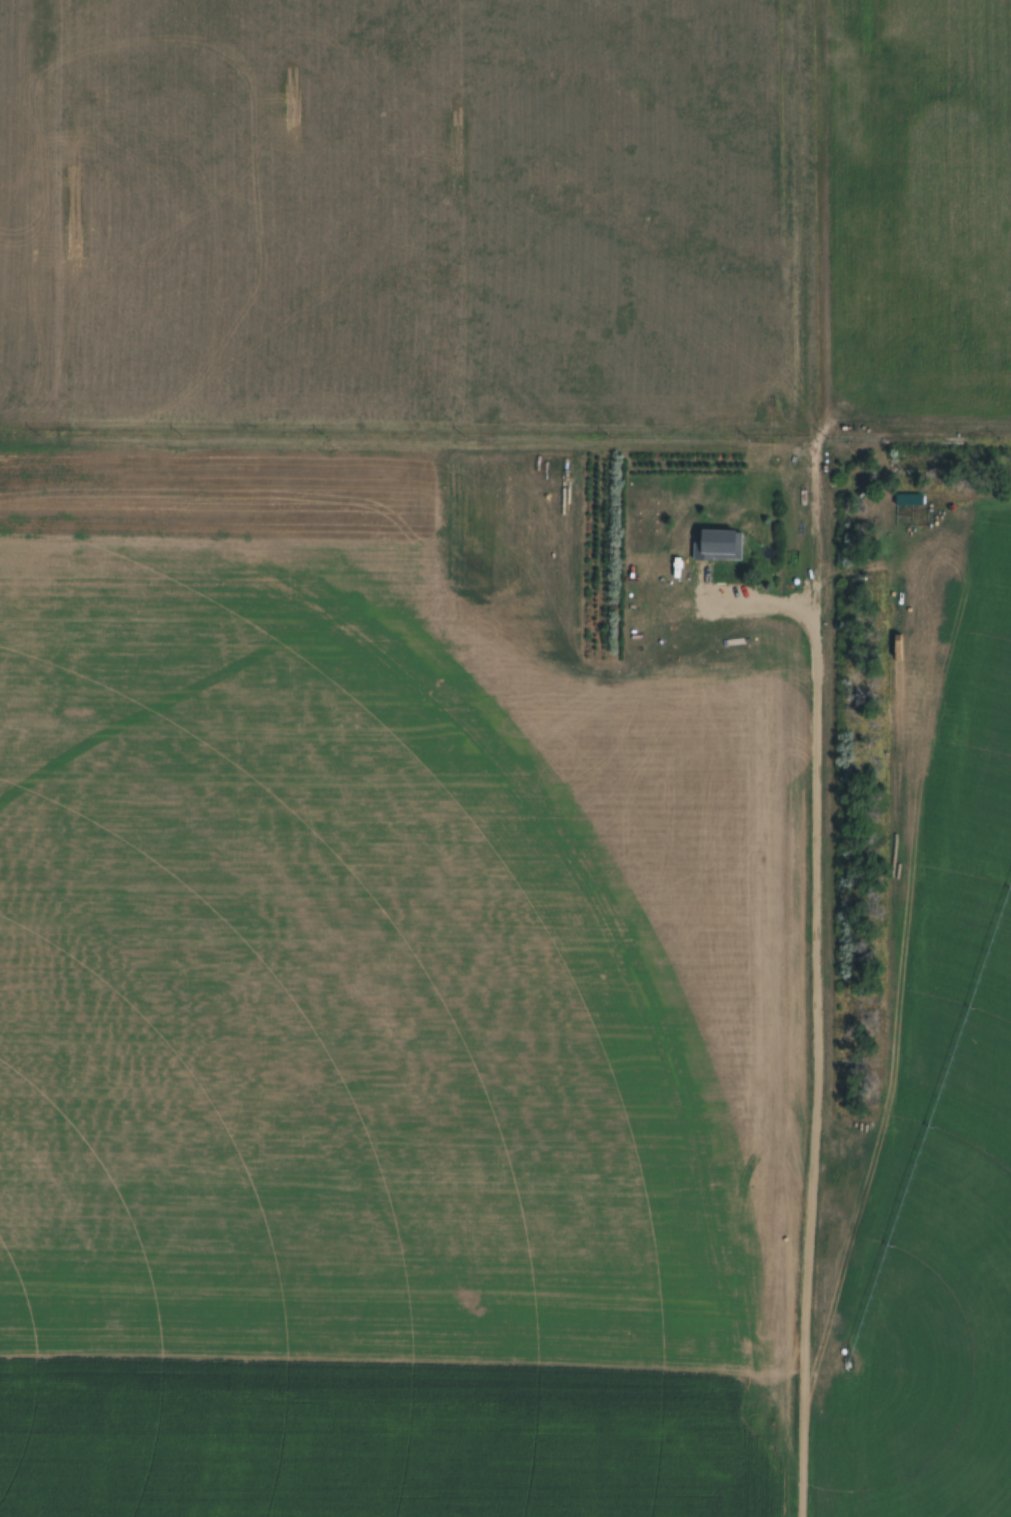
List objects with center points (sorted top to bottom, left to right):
building: (715, 545)
road: (798, 758)

